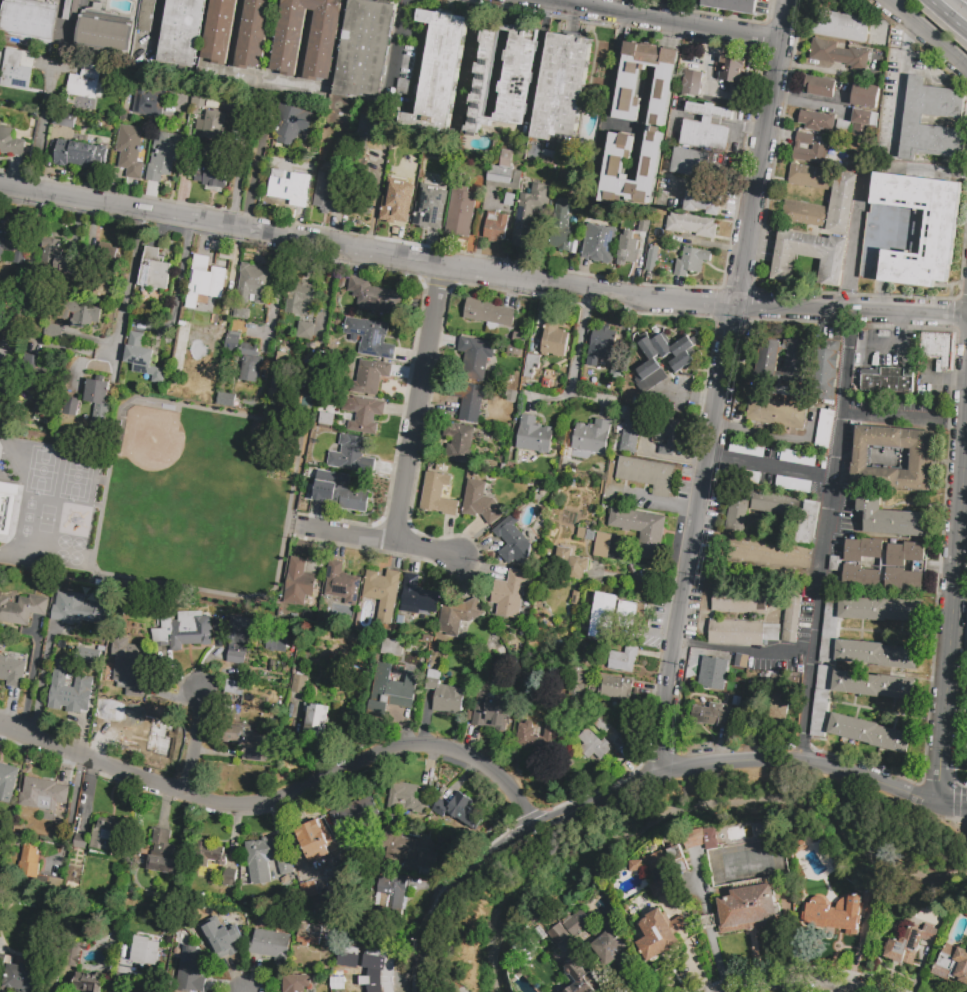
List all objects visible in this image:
building: (731, 5)
building: (67, 9)
building: (74, 10)
building: (146, 15)
road: (947, 16)
building: (29, 21)
road: (662, 21)
building: (840, 25)
building: (182, 32)
building: (218, 32)
building: (105, 33)
building: (252, 34)
road: (923, 38)
building: (323, 41)
building: (365, 50)
building: (838, 53)
road: (464, 63)
building: (733, 67)
building: (16, 69)
building: (406, 69)
building: (439, 71)
building: (84, 82)
road: (612, 83)
building: (692, 83)
building: (503, 84)
building: (820, 86)
building: (561, 87)
road: (897, 91)
building: (866, 95)
building: (149, 98)
building: (198, 100)
building: (218, 102)
building: (951, 116)
building: (63, 118)
building: (865, 118)
building: (816, 120)
road: (642, 121)
building: (291, 123)
building: (212, 125)
building: (654, 125)
road: (47, 126)
building: (706, 128)
building: (367, 132)
building: (11, 143)
building: (807, 149)
building: (131, 150)
road: (763, 153)
building: (78, 154)
building: (163, 156)
building: (445, 161)
building: (690, 161)
building: (430, 170)
road: (928, 172)
building: (215, 173)
building: (504, 173)
road: (240, 176)
road: (253, 178)
building: (291, 187)
building: (326, 193)
building: (510, 199)
building: (703, 199)
building: (395, 200)
building: (795, 201)
building: (428, 206)
building: (461, 208)
building: (528, 214)
building: (691, 225)
building: (495, 226)
building: (560, 226)
building: (641, 226)
building: (910, 230)
building: (14, 241)
building: (599, 243)
road: (854, 249)
road: (366, 250)
building: (111, 251)
building: (627, 251)
building: (809, 256)
building: (57, 258)
building: (652, 258)
building: (690, 261)
building: (154, 268)
road: (30, 275)
building: (214, 279)
building: (255, 279)
road: (277, 285)
road: (128, 287)
road: (176, 288)
building: (375, 295)
road: (325, 298)
building: (301, 300)
building: (254, 311)
building: (488, 311)
road: (850, 313)
building: (78, 314)
building: (222, 315)
building: (53, 332)
building: (306, 332)
building: (372, 338)
building: (519, 338)
building: (554, 340)
building: (600, 345)
building: (683, 345)
building: (231, 346)
building: (656, 346)
road: (896, 347)
building: (938, 348)
building: (517, 351)
building: (142, 357)
building: (476, 357)
road: (578, 359)
building: (797, 360)
building: (250, 362)
building: (681, 362)
building: (768, 362)
building: (531, 365)
building: (823, 369)
building: (648, 375)
building: (370, 376)
building: (277, 377)
building: (887, 381)
building: (546, 383)
road: (722, 387)
building: (226, 399)
building: (468, 399)
road: (554, 401)
building: (42, 402)
building: (98, 403)
building: (71, 405)
road: (418, 405)
building: (363, 413)
building: (775, 413)
road: (883, 416)
building: (824, 429)
building: (648, 430)
building: (531, 434)
building: (592, 437)
building: (458, 442)
building: (352, 455)
building: (750, 457)
building: (646, 474)
road: (811, 476)
building: (893, 477)
building: (339, 491)
building: (437, 495)
road: (662, 500)
building: (480, 502)
building: (774, 504)
building: (7, 505)
building: (737, 510)
building: (807, 521)
building: (641, 530)
building: (585, 534)
road: (825, 536)
building: (512, 541)
road: (379, 543)
building: (610, 546)
building: (862, 550)
building: (769, 554)
building: (905, 555)
road: (695, 562)
building: (573, 563)
building: (860, 577)
building: (903, 580)
building: (300, 583)
building: (342, 584)
building: (382, 592)
building: (509, 594)
building: (417, 597)
building: (576, 598)
building: (739, 599)
building: (22, 610)
building: (879, 610)
building: (80, 611)
building: (457, 615)
building: (603, 615)
building: (628, 616)
road: (953, 616)
building: (791, 619)
building: (828, 625)
building: (184, 630)
building: (741, 632)
building: (242, 636)
building: (276, 642)
building: (393, 647)
road: (746, 649)
building: (502, 651)
building: (877, 653)
building: (620, 659)
building: (741, 661)
building: (129, 667)
building: (12, 672)
building: (715, 674)
building: (59, 675)
building: (735, 681)
road: (33, 682)
building: (299, 683)
building: (580, 685)
building: (872, 685)
building: (615, 686)
building: (234, 688)
road: (43, 689)
building: (391, 690)
building: (444, 695)
building: (72, 697)
building: (819, 700)
building: (779, 701)
building: (493, 710)
building: (713, 716)
road: (669, 717)
building: (315, 719)
building: (140, 723)
building: (602, 725)
building: (868, 733)
building: (536, 736)
road: (193, 742)
building: (250, 743)
building: (593, 745)
road: (728, 764)
road: (870, 777)
building: (7, 782)
building: (42, 794)
road: (281, 798)
building: (406, 798)
road: (75, 802)
road: (953, 805)
building: (439, 807)
building: (464, 811)
building: (354, 814)
building: (311, 834)
building: (106, 836)
building: (701, 838)
building: (80, 841)
building: (1, 848)
road: (501, 848)
building: (411, 850)
building: (162, 852)
building: (208, 854)
building: (676, 858)
building: (260, 859)
building: (31, 864)
building: (635, 865)
building: (284, 866)
building: (304, 867)
building: (659, 874)
building: (52, 878)
building: (229, 878)
building: (394, 891)
building: (873, 902)
building: (745, 908)
building: (841, 916)
building: (308, 934)
building: (557, 934)
building: (659, 934)
building: (221, 937)
building: (602, 942)
building: (270, 944)
building: (908, 944)
building: (359, 948)
building: (145, 950)
building: (70, 954)
building: (346, 959)
building: (952, 964)
building: (191, 970)
building: (23, 977)
building: (579, 978)
building: (364, 979)
building: (89, 982)
building: (295, 983)
road: (801, 984)
road: (121, 990)

